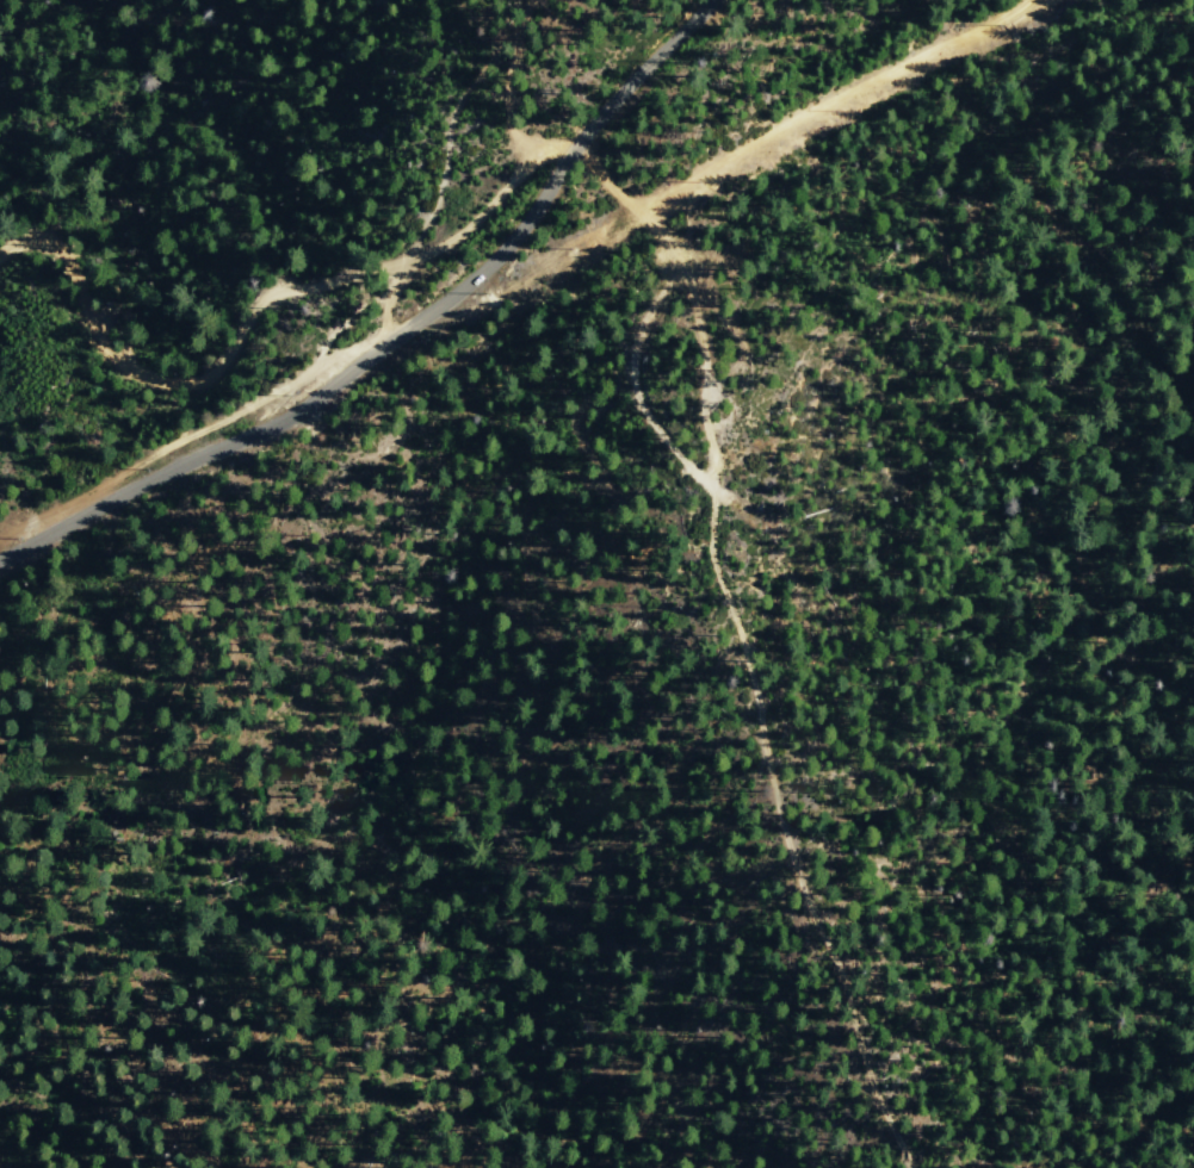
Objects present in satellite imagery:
road: (507, 95)
road: (728, 156)
road: (443, 175)
road: (247, 310)
road: (397, 333)
road: (193, 435)
road: (730, 632)

